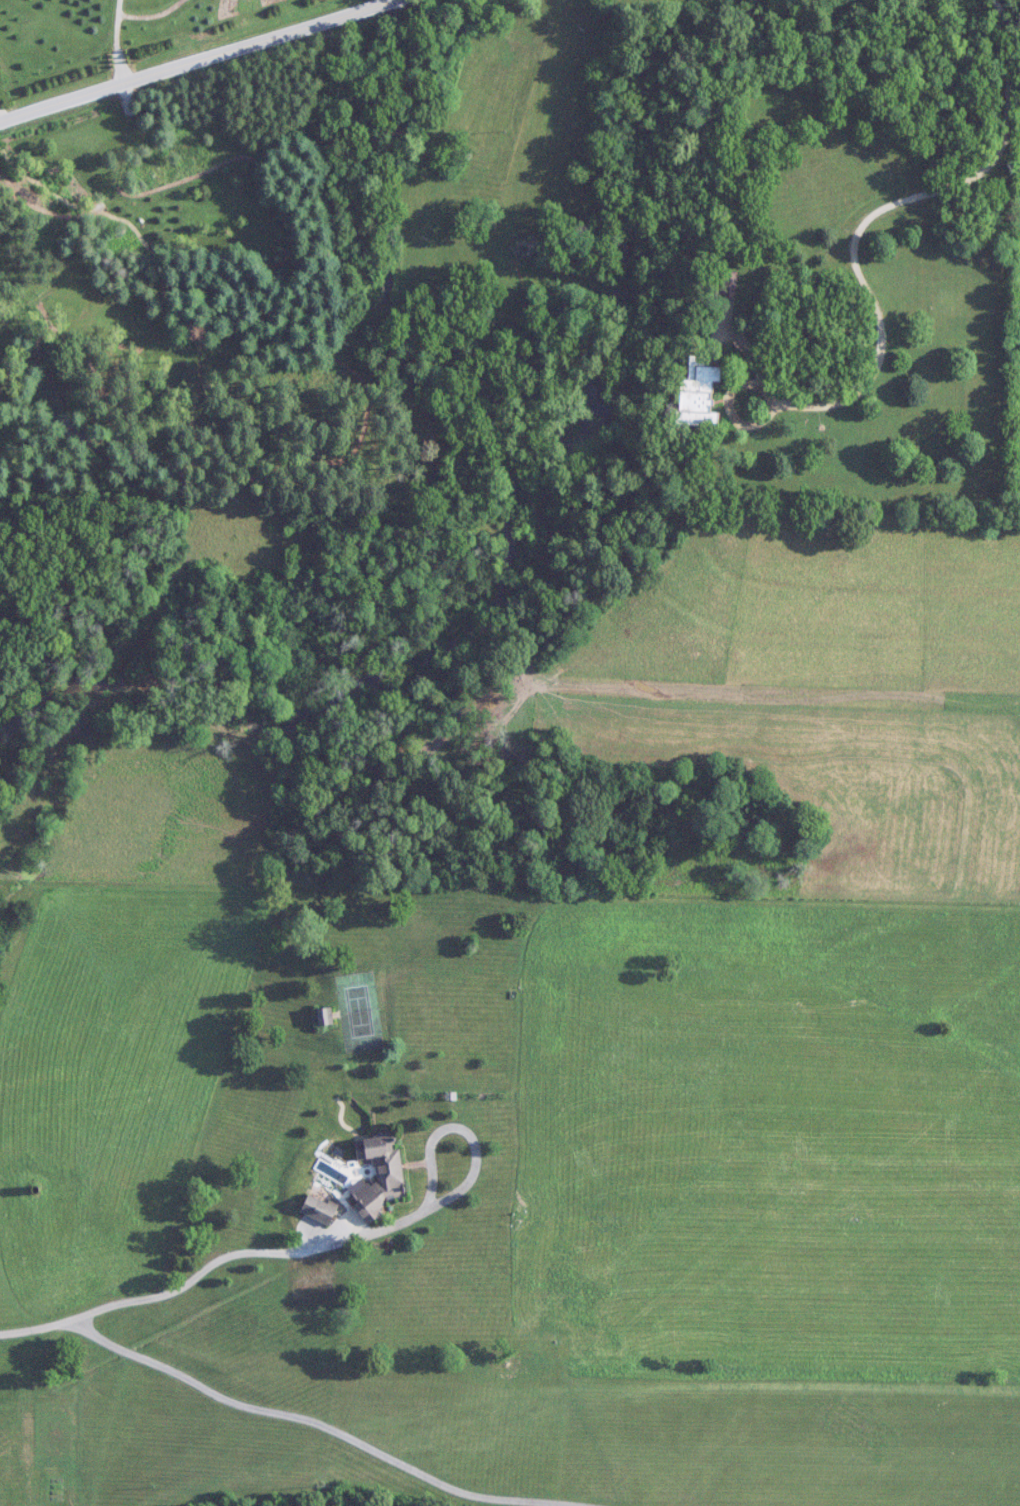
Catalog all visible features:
road: (1007, 44)
road: (194, 56)
road: (867, 283)
building: (74, 303)
building: (698, 394)
building: (325, 1017)
building: (380, 1177)
road: (192, 1278)
road: (287, 1414)

